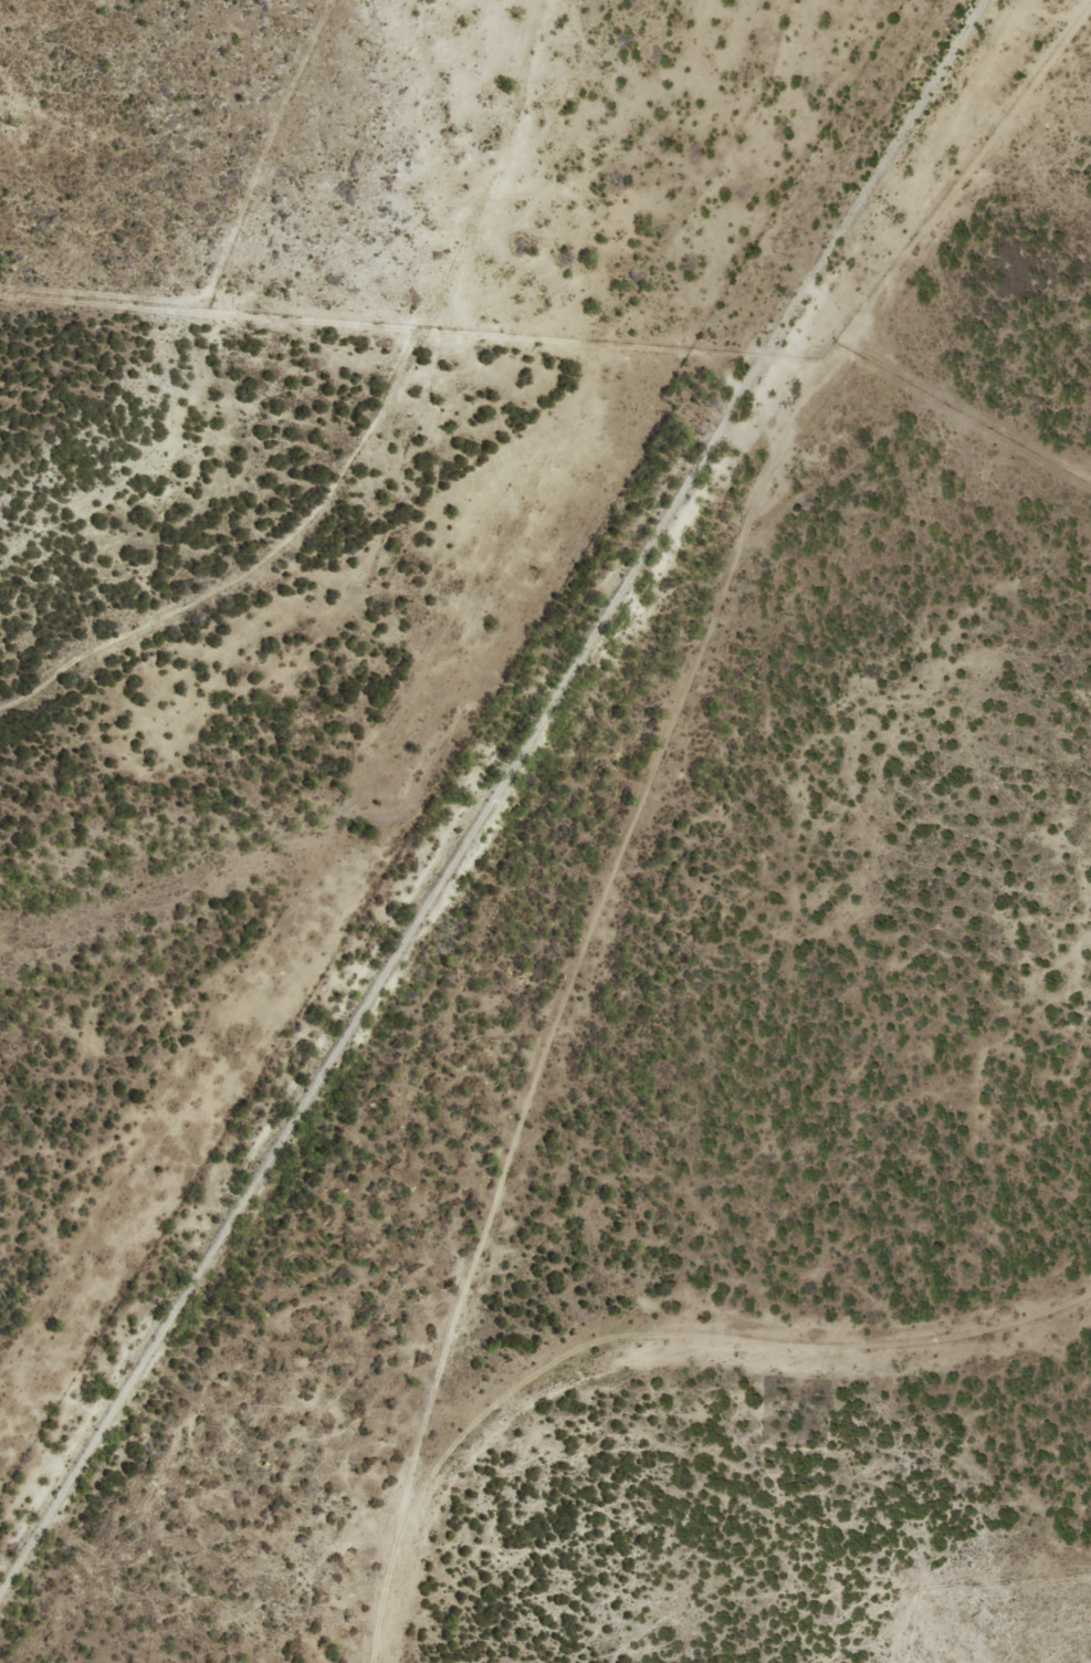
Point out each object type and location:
road: (208, 312)
road: (364, 431)
railway: (506, 812)

